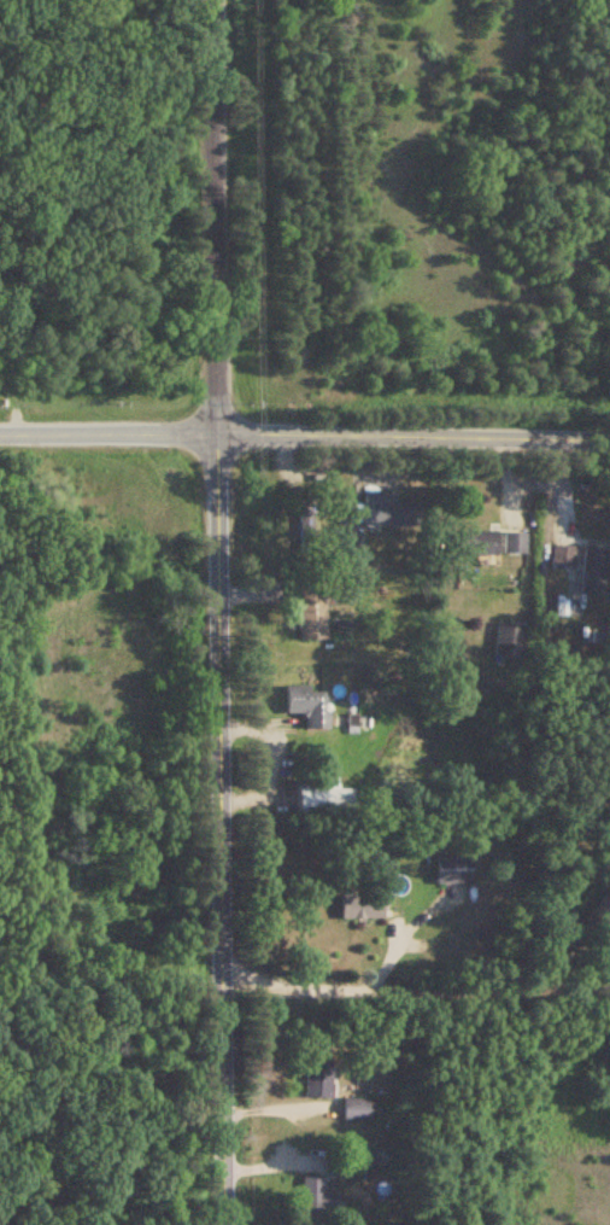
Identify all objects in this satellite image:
road: (107, 433)
road: (412, 434)
building: (387, 508)
building: (304, 527)
building: (511, 541)
building: (476, 542)
building: (559, 555)
building: (583, 587)
building: (309, 607)
road: (216, 612)
building: (506, 643)
building: (304, 702)
road: (272, 760)
building: (319, 795)
building: (451, 868)
building: (358, 905)
road: (412, 991)
building: (315, 1078)
building: (354, 1107)
building: (342, 1163)
building: (316, 1195)

